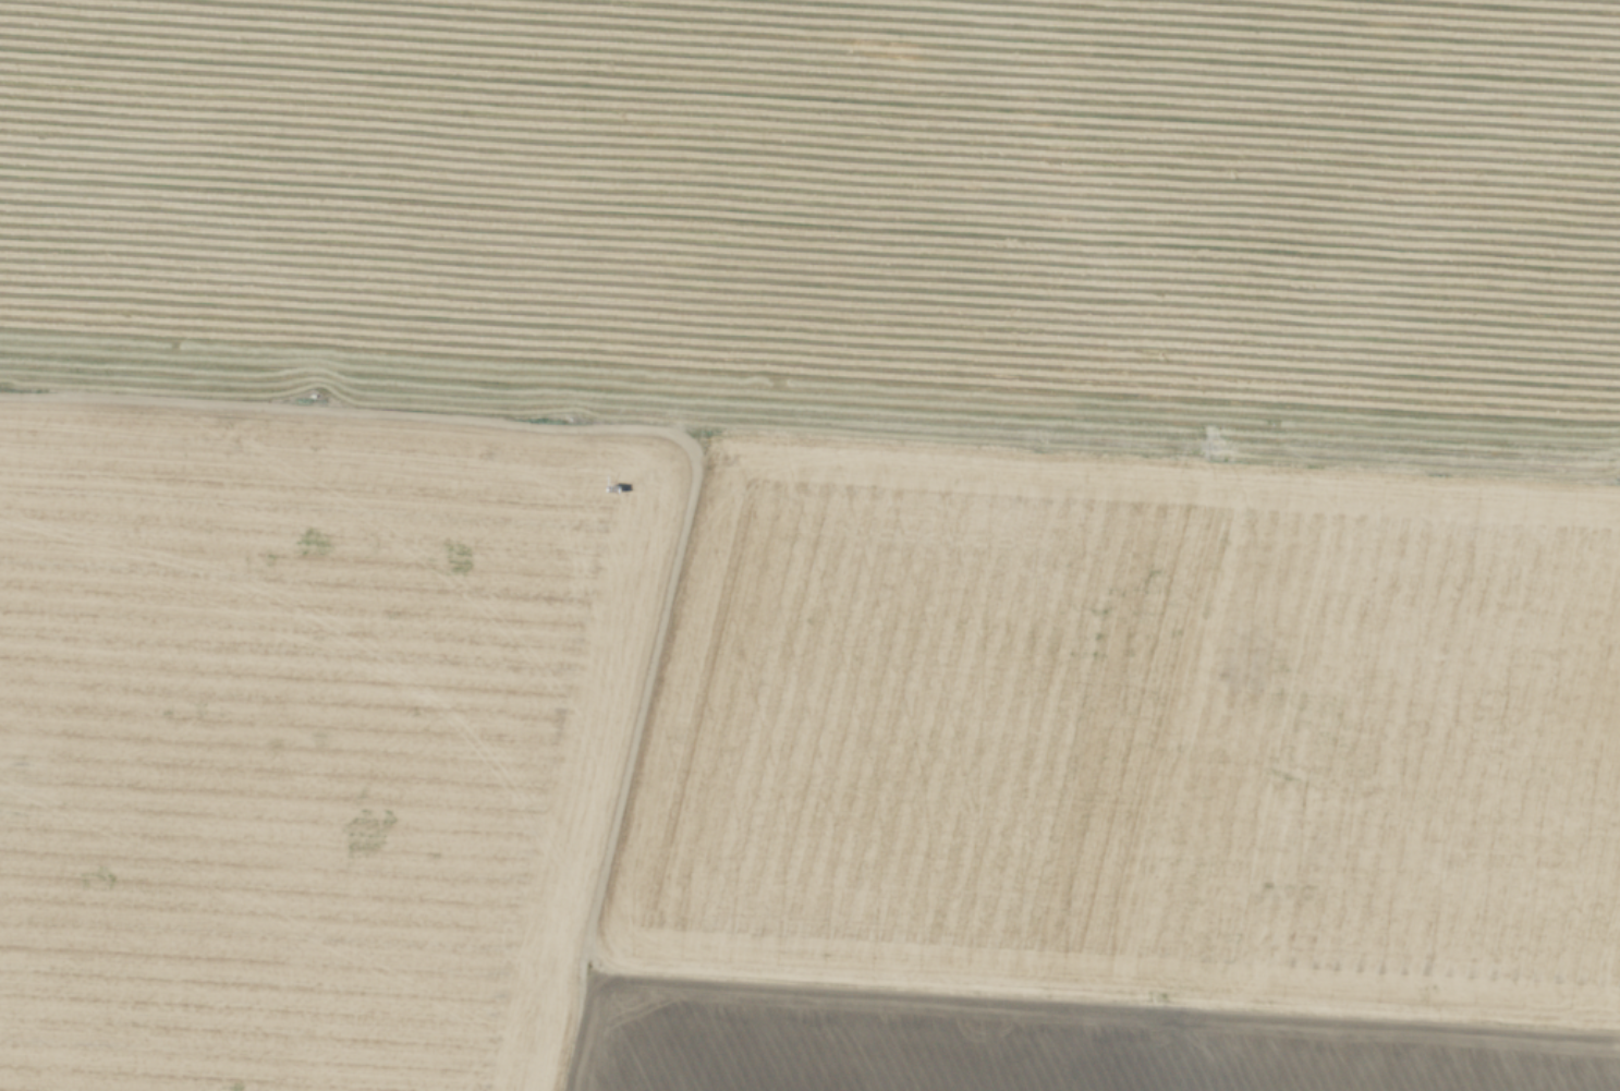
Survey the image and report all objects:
crop: (842, 215)
crop: (789, 759)
road: (602, 871)
road: (575, 1031)

